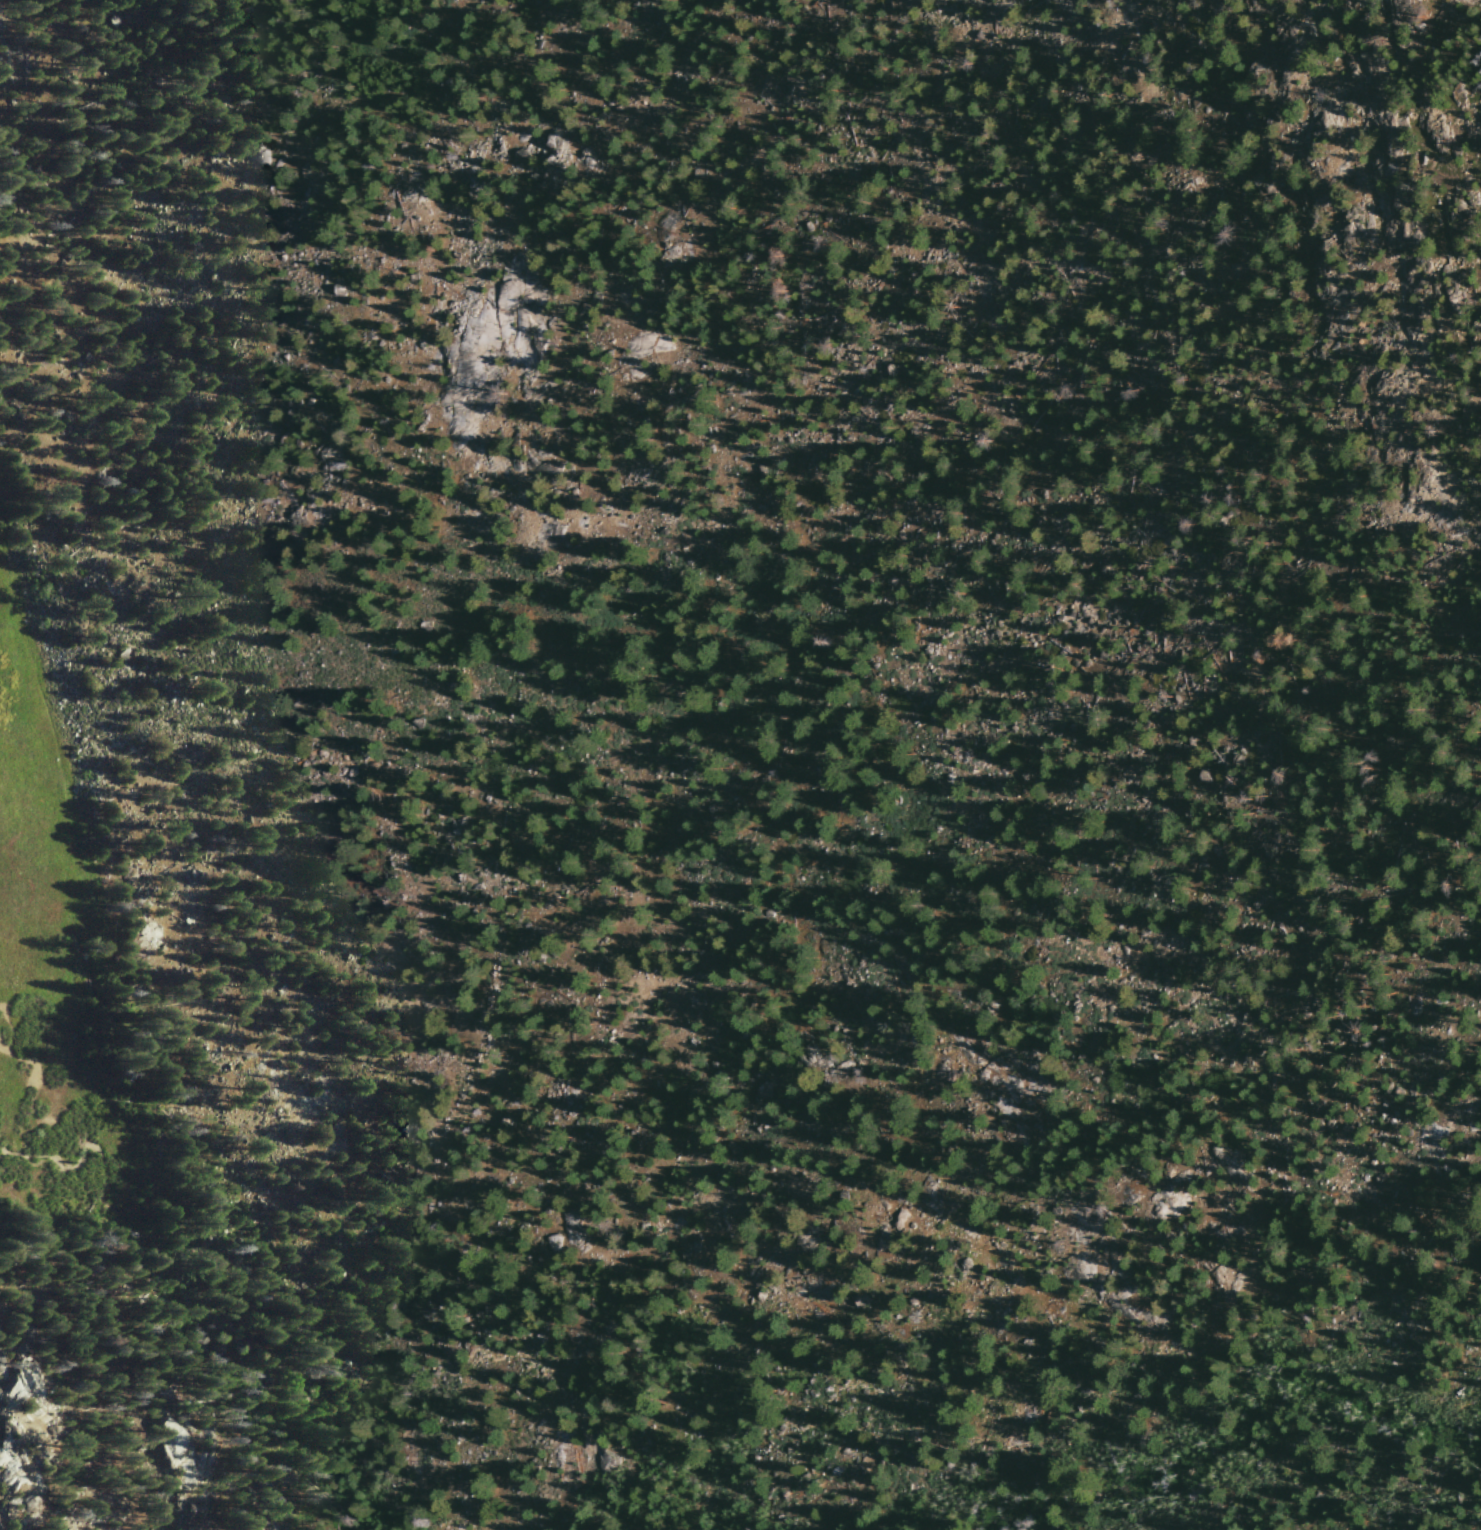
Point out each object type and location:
road: (61, 1056)

